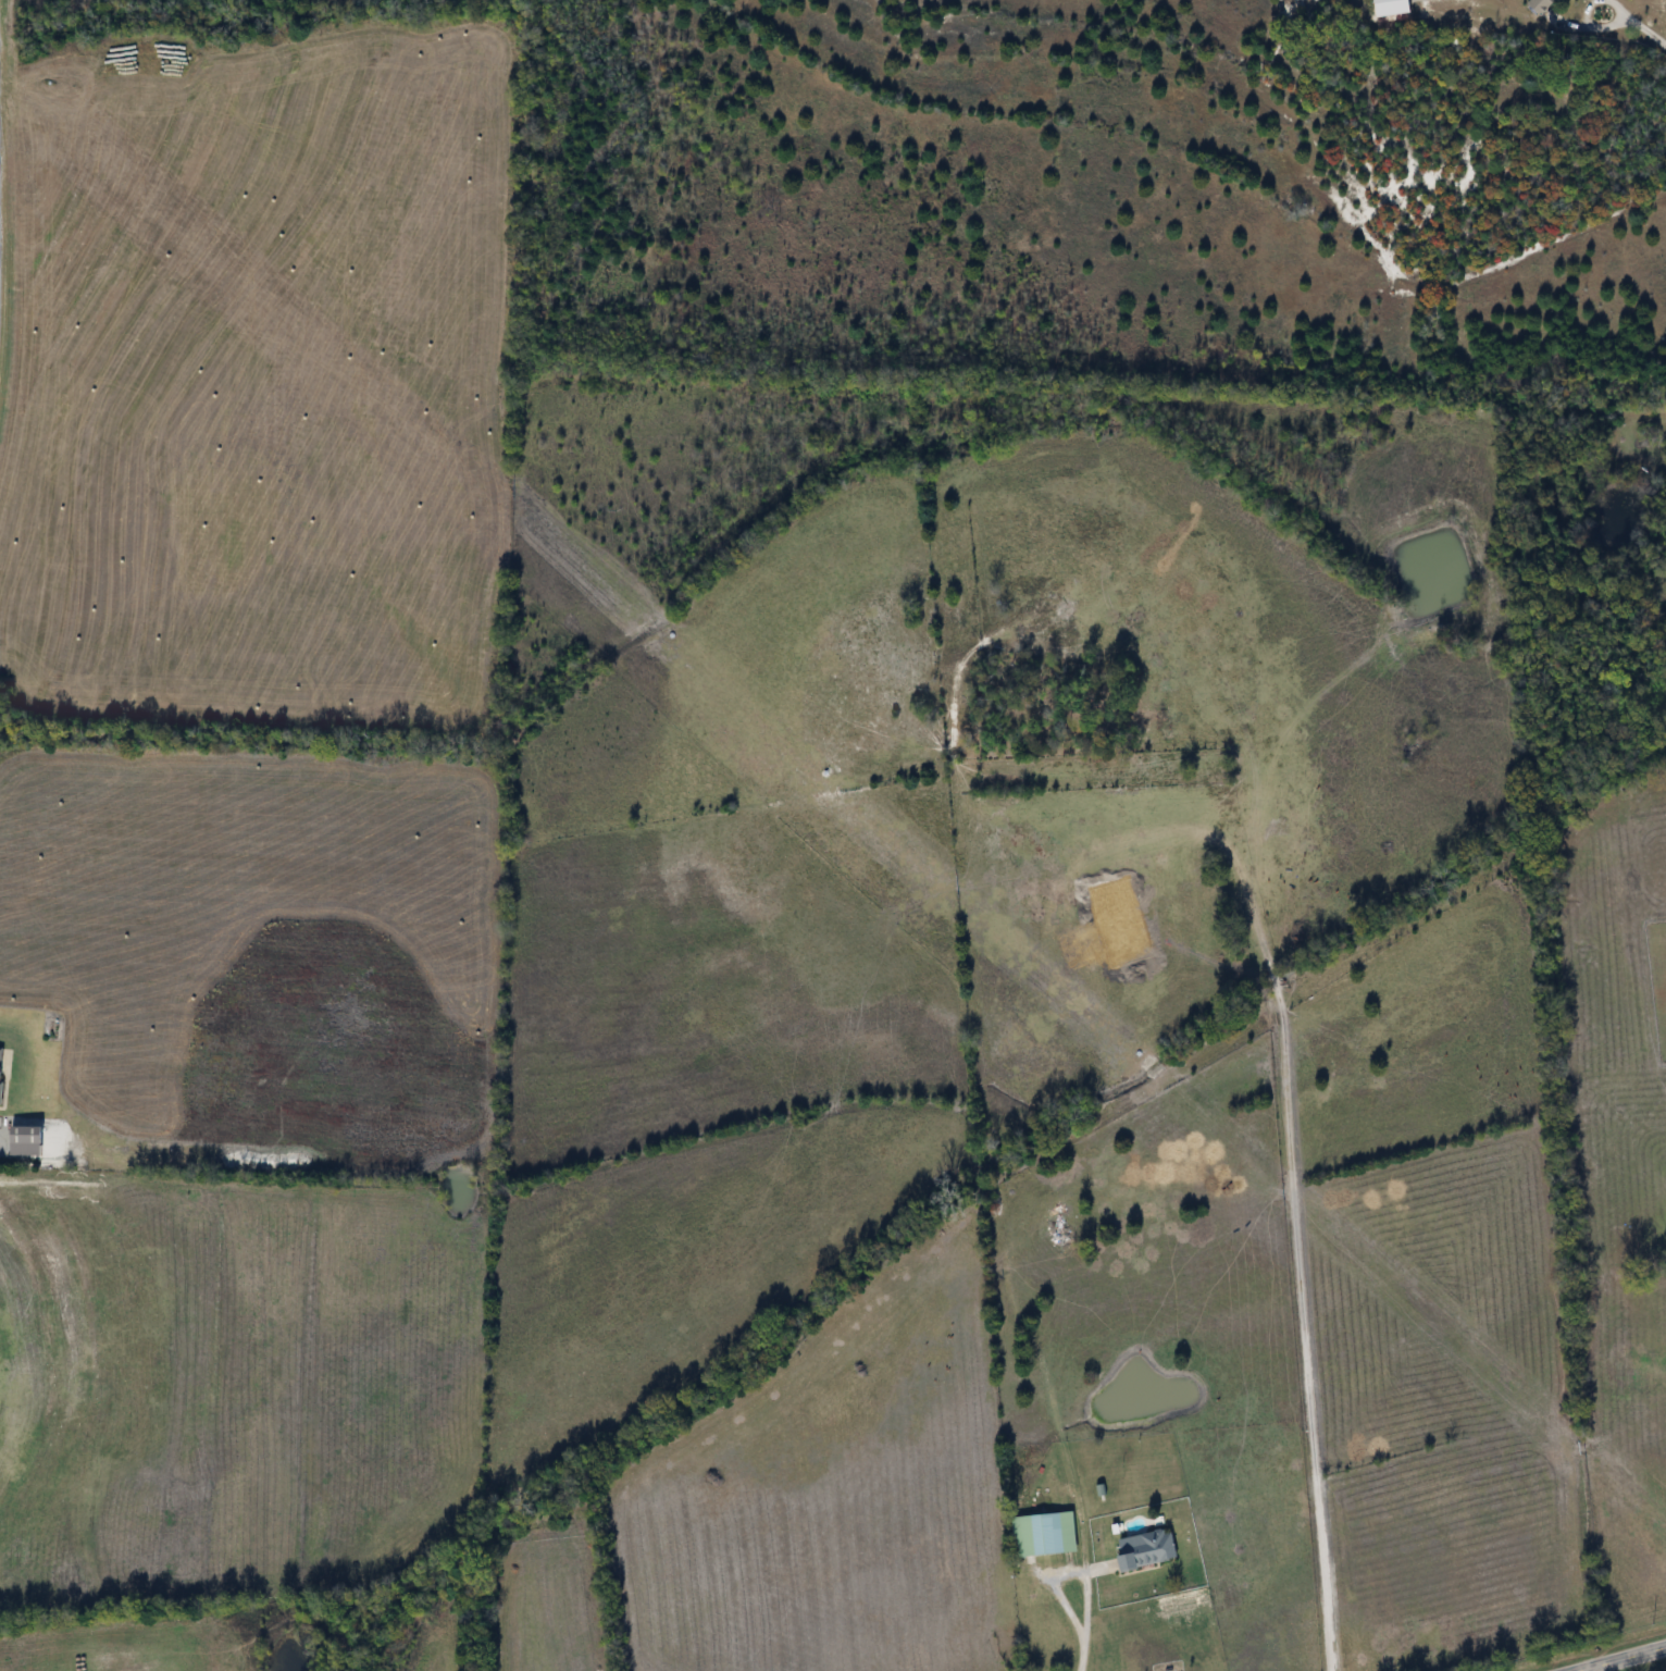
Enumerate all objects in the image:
building: (1545, 5)
road: (1634, 23)
building: (1045, 1535)
building: (1147, 1550)
road: (1085, 1621)
road: (1619, 1658)

